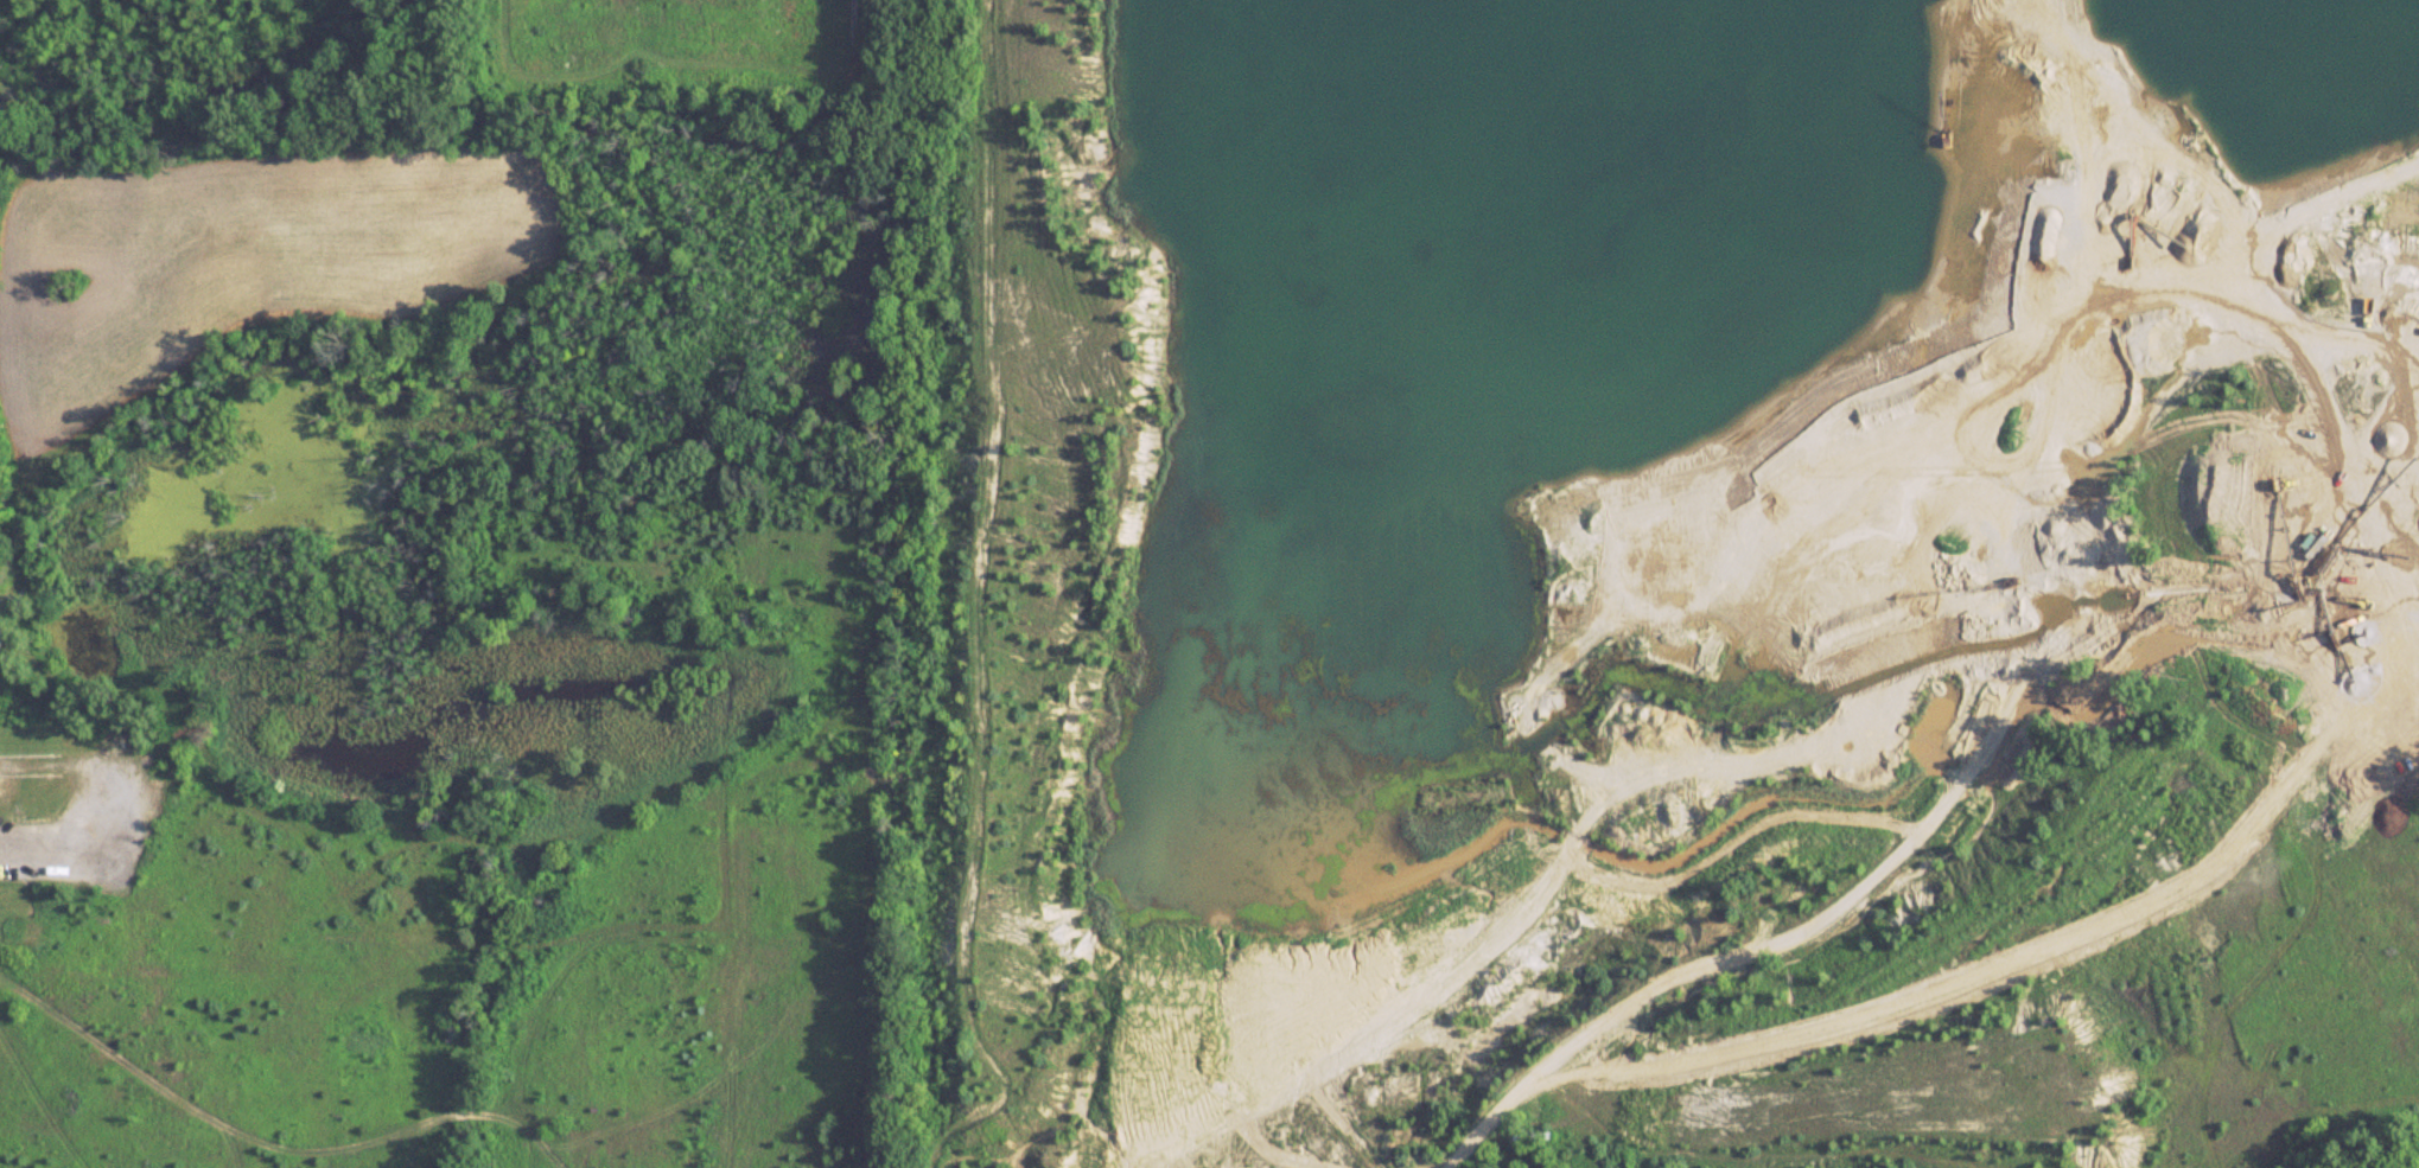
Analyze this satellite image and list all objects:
road: (2342, 428)
quarry: (1678, 585)
building: (11, 765)
road: (75, 848)

